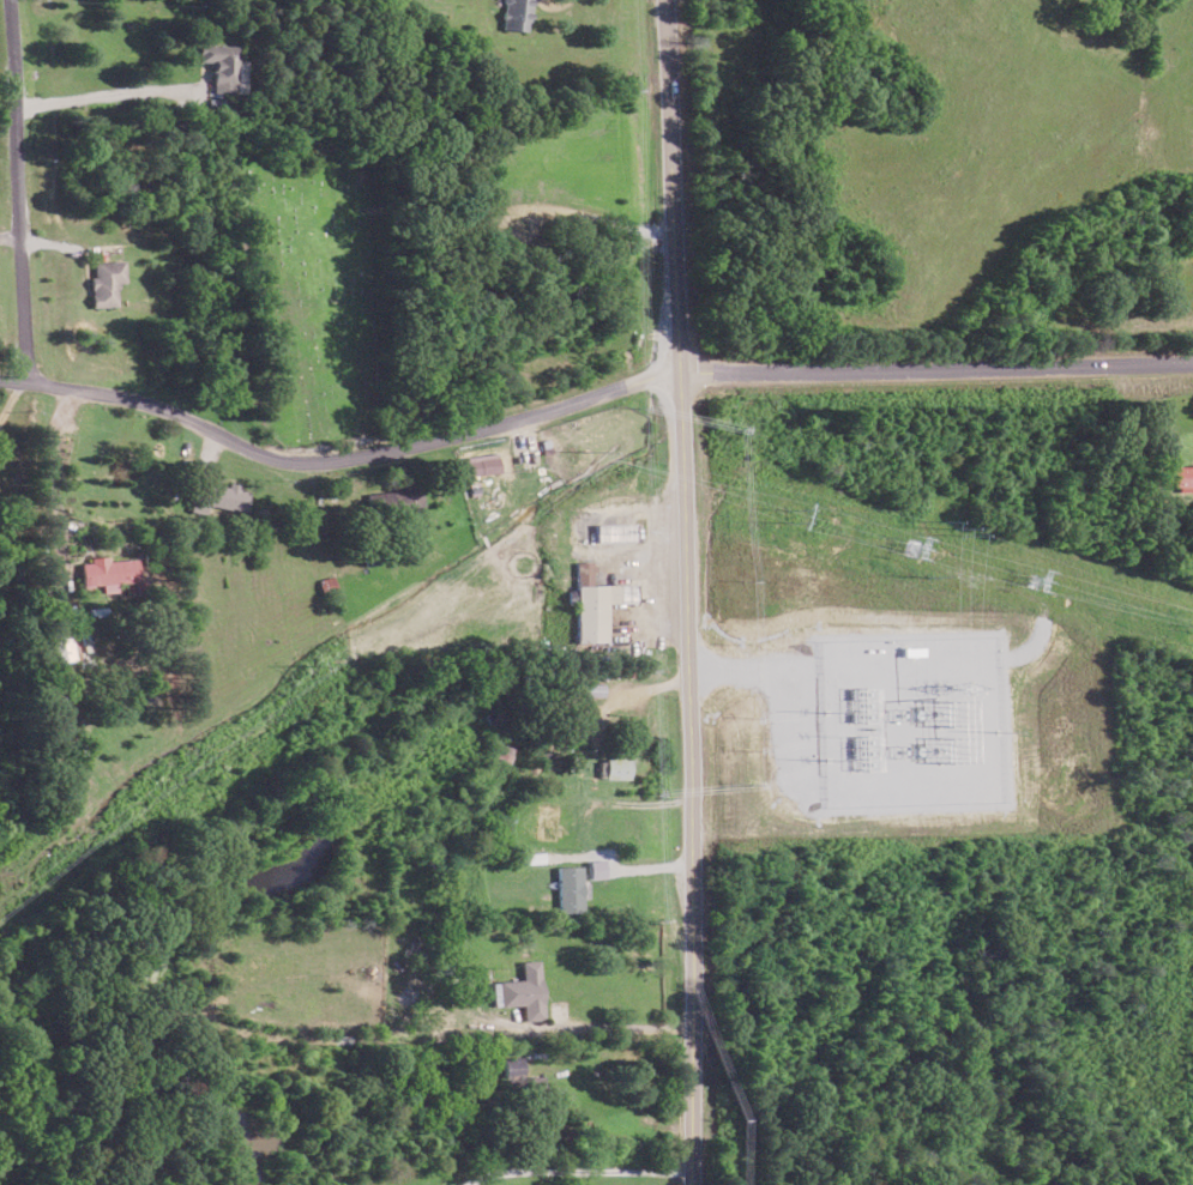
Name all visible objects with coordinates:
building: (516, 14)
building: (219, 65)
road: (108, 93)
road: (20, 192)
building: (107, 282)
road: (934, 367)
road: (337, 461)
building: (482, 462)
road: (47, 477)
building: (1182, 477)
building: (217, 496)
building: (393, 501)
building: (614, 531)
building: (108, 572)
road: (682, 592)
building: (594, 603)
building: (59, 645)
building: (614, 767)
building: (597, 867)
building: (570, 888)
building: (522, 990)
road: (599, 1026)
building: (522, 1078)
road: (573, 1167)

